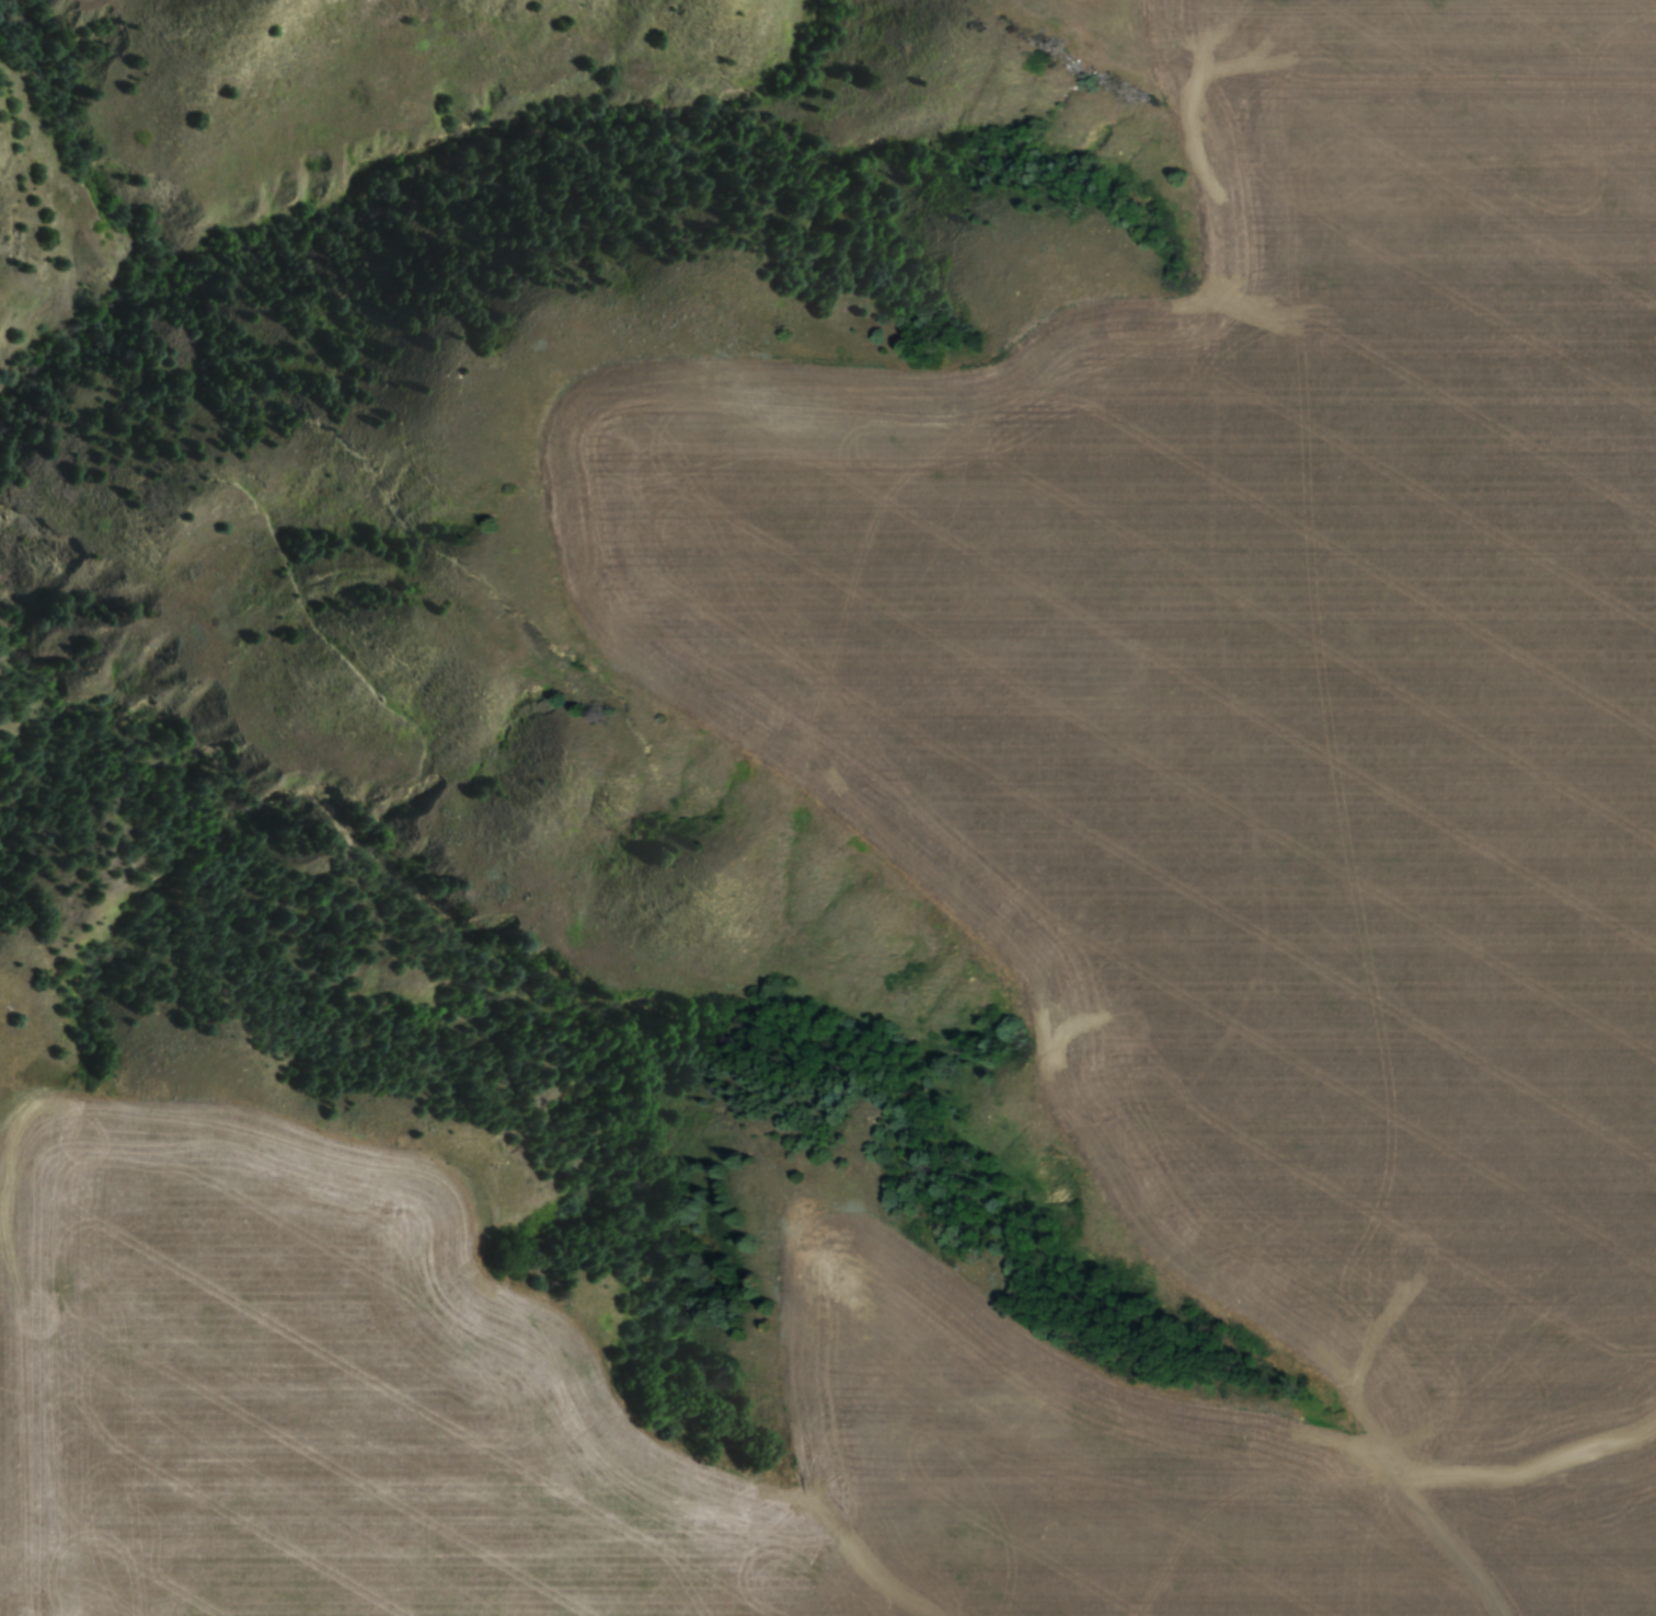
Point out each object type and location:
road: (1439, 117)

